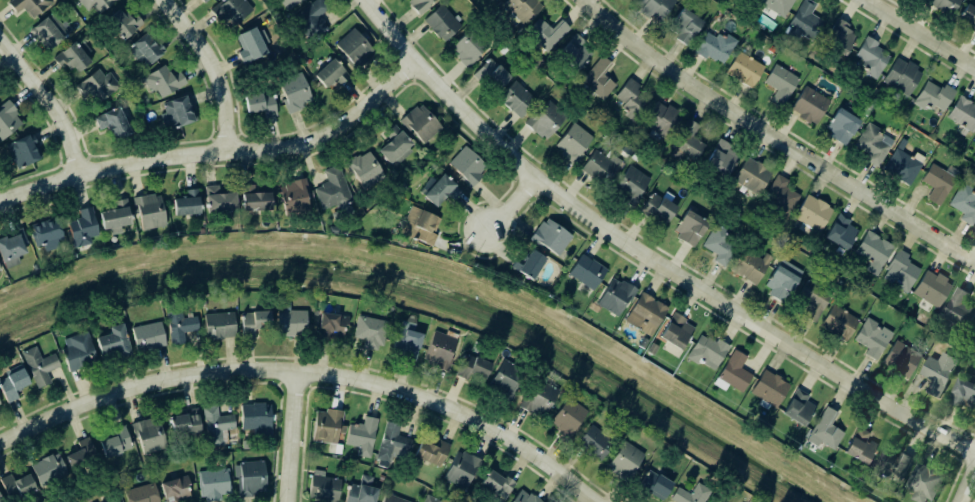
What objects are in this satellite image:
building: (301, 0)
building: (493, 0)
building: (495, 0)
building: (747, 0)
building: (202, 1)
building: (285, 3)
building: (93, 4)
building: (27, 5)
building: (417, 5)
building: (942, 5)
building: (775, 6)
building: (653, 7)
building: (520, 8)
building: (229, 11)
building: (309, 18)
building: (967, 18)
building: (804, 20)
building: (441, 22)
building: (120, 25)
building: (682, 26)
building: (47, 31)
building: (545, 34)
road: (919, 34)
building: (837, 38)
building: (249, 44)
building: (467, 46)
building: (350, 47)
building: (713, 47)
building: (143, 49)
building: (573, 51)
building: (69, 58)
building: (869, 58)
road: (211, 67)
building: (742, 69)
building: (326, 73)
building: (488, 74)
building: (900, 76)
building: (596, 79)
building: (162, 81)
building: (810, 81)
building: (779, 84)
building: (94, 85)
building: (292, 92)
building: (931, 96)
building: (514, 99)
building: (630, 99)
road: (48, 102)
building: (257, 104)
building: (807, 105)
building: (173, 114)
building: (962, 114)
building: (6, 118)
building: (543, 119)
building: (658, 119)
building: (418, 123)
building: (109, 126)
building: (839, 126)
road: (774, 138)
building: (571, 143)
building: (974, 143)
building: (685, 144)
building: (871, 144)
building: (392, 146)
road: (217, 149)
building: (19, 152)
building: (719, 158)
building: (904, 164)
building: (465, 166)
building: (599, 167)
building: (361, 168)
building: (751, 175)
building: (629, 184)
building: (936, 184)
building: (331, 189)
building: (434, 189)
building: (292, 196)
building: (780, 198)
building: (216, 200)
building: (251, 200)
building: (185, 203)
building: (963, 203)
road: (510, 205)
building: (656, 207)
building: (147, 211)
building: (810, 213)
building: (113, 216)
building: (417, 226)
building: (80, 227)
building: (687, 228)
building: (839, 232)
building: (45, 235)
building: (549, 237)
building: (717, 244)
building: (11, 246)
building: (871, 252)
road: (646, 255)
building: (525, 265)
building: (747, 266)
building: (585, 271)
building: (899, 271)
building: (780, 280)
building: (929, 288)
building: (614, 296)
building: (812, 301)
building: (955, 306)
building: (591, 310)
building: (644, 314)
building: (254, 322)
building: (293, 322)
building: (836, 323)
building: (332, 324)
building: (219, 325)
building: (180, 326)
building: (371, 331)
building: (674, 331)
building: (148, 337)
building: (869, 338)
building: (113, 343)
building: (407, 343)
building: (641, 343)
building: (650, 349)
building: (439, 350)
building: (78, 351)
building: (705, 351)
building: (899, 358)
building: (39, 366)
building: (472, 368)
building: (733, 372)
building: (936, 372)
building: (505, 379)
building: (13, 382)
road: (143, 384)
building: (767, 388)
building: (962, 389)
building: (539, 398)
building: (796, 407)
road: (460, 411)
building: (256, 417)
building: (568, 417)
building: (185, 422)
building: (327, 425)
building: (217, 426)
building: (823, 430)
building: (149, 434)
building: (362, 436)
road: (291, 437)
building: (116, 442)
building: (594, 442)
building: (393, 443)
building: (858, 446)
building: (432, 451)
building: (82, 455)
building: (624, 461)
building: (892, 464)
building: (49, 469)
building: (461, 469)
building: (250, 477)
building: (922, 482)
road: (966, 482)
building: (214, 483)
building: (496, 485)
building: (655, 485)
building: (17, 486)
building: (323, 487)
building: (176, 490)
building: (361, 491)
building: (143, 493)
building: (690, 494)
building: (524, 497)
building: (0, 499)
building: (392, 499)
building: (430, 499)
building: (113, 500)

